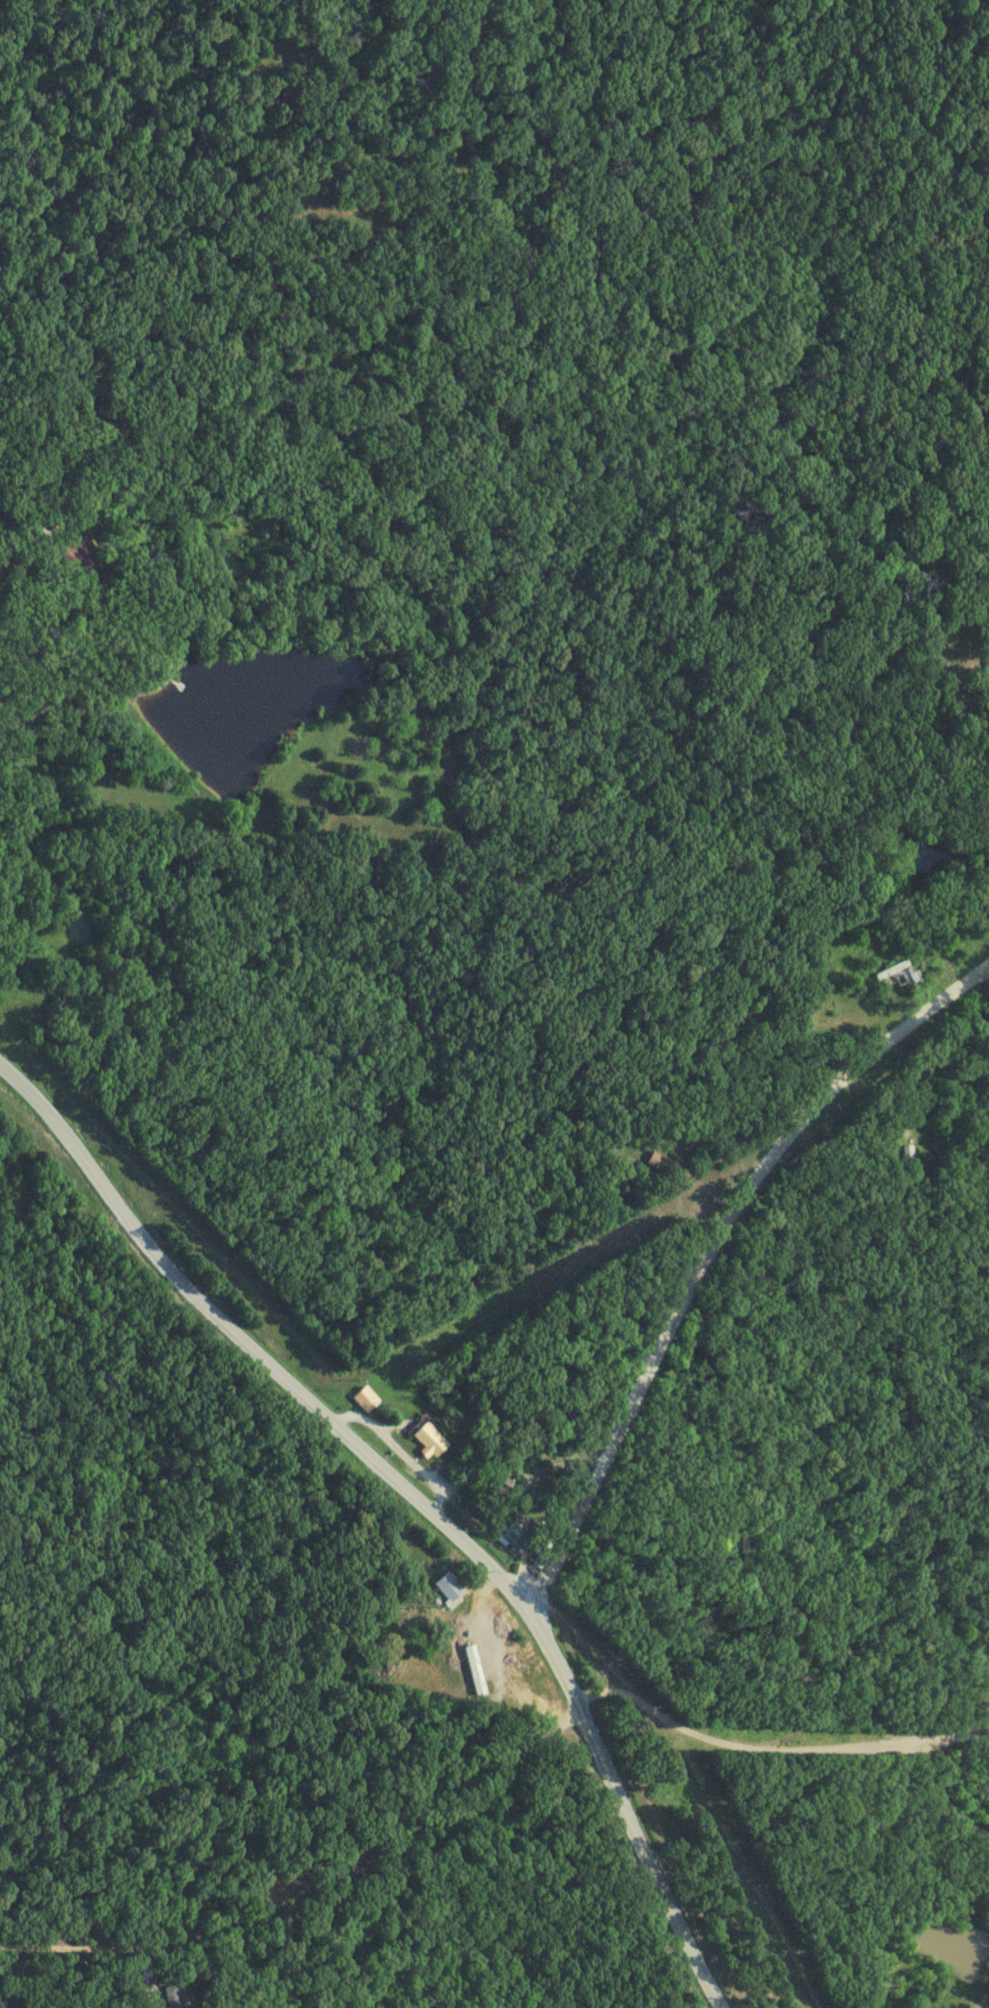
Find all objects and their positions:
building: (5, 516)
road: (1, 541)
building: (906, 973)
road: (709, 1246)
building: (365, 1400)
building: (430, 1442)
road: (417, 1498)
building: (452, 1592)
road: (782, 1733)
road: (426, 1789)
road: (147, 1945)
road: (291, 1952)
building: (173, 1996)

